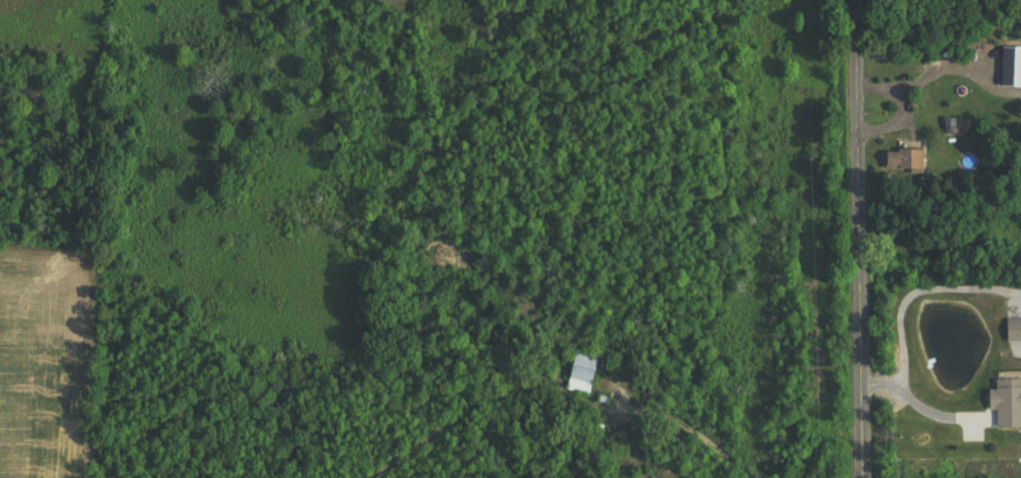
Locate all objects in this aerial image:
building: (1011, 61)
building: (920, 160)
road: (859, 239)
building: (1014, 329)
building: (588, 371)
building: (1009, 402)

